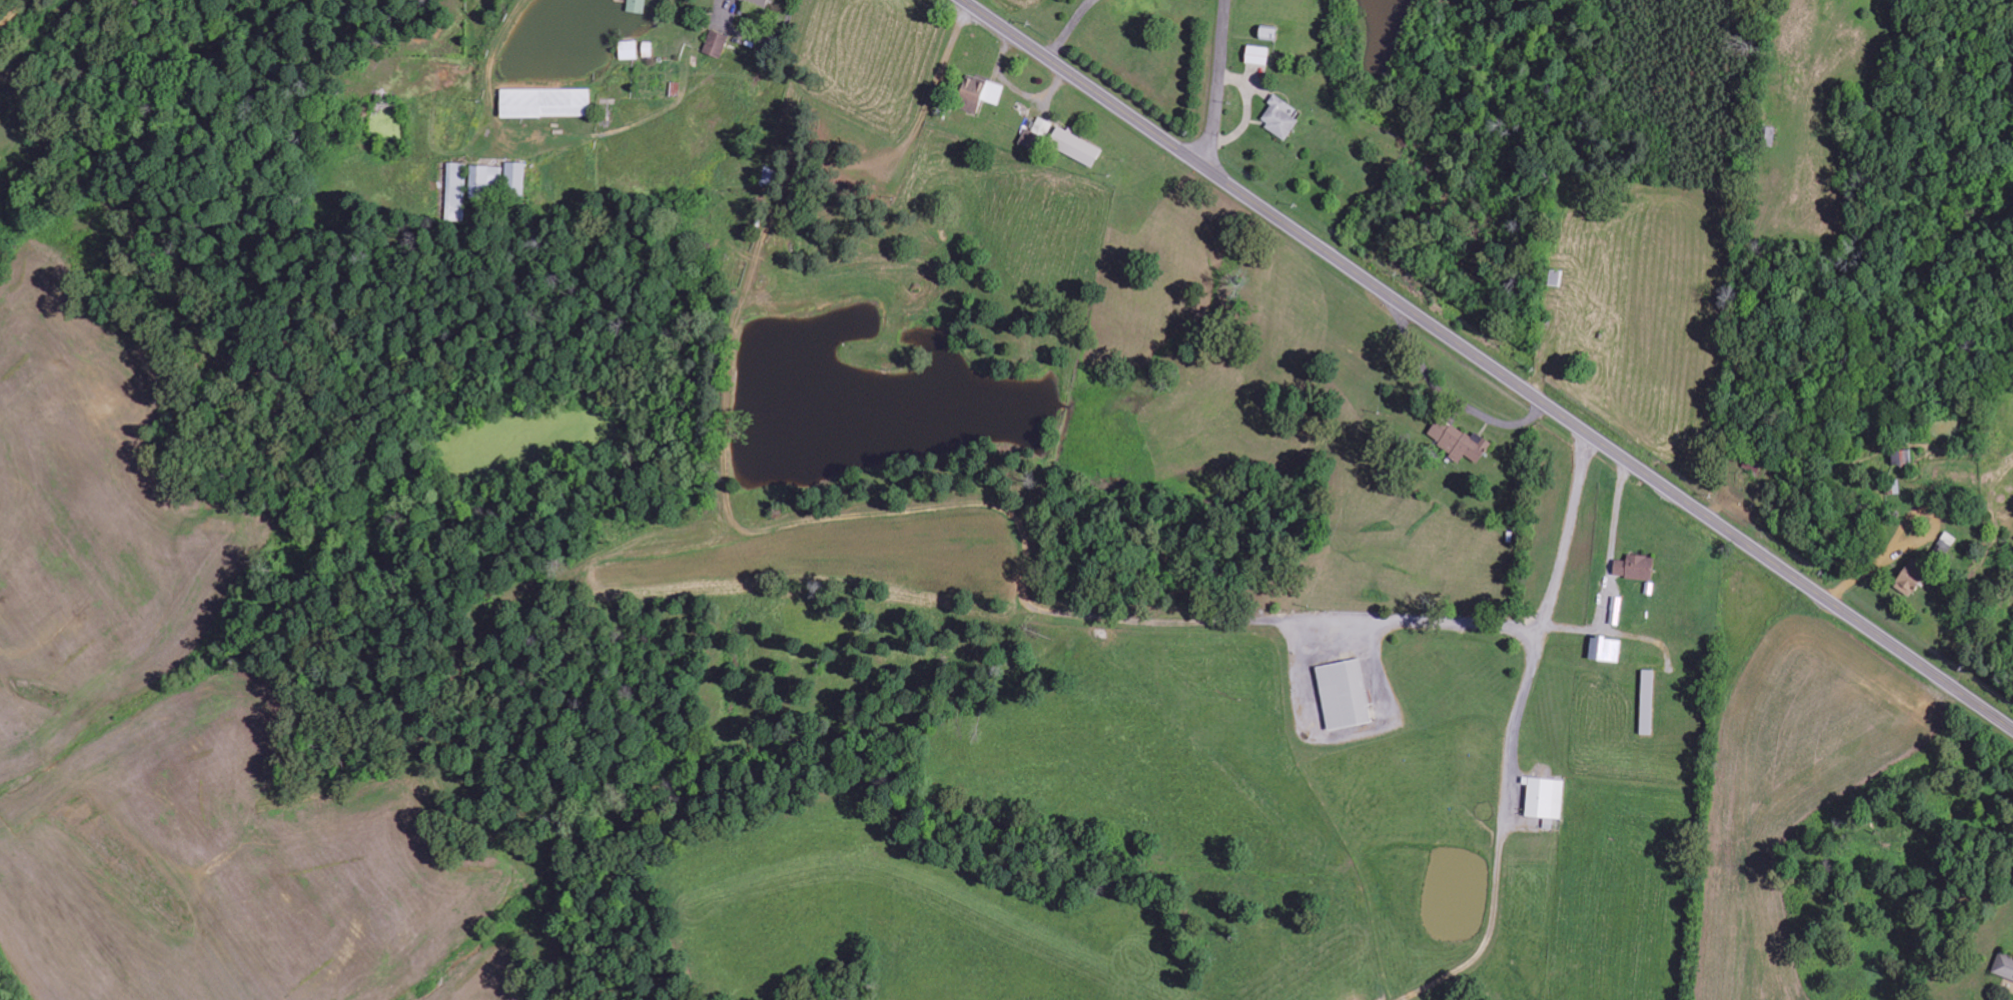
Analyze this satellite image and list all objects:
building: (758, 2)
road: (6, 4)
building: (635, 5)
building: (715, 43)
building: (627, 50)
building: (1257, 54)
road: (1219, 84)
building: (977, 92)
building: (544, 102)
building: (1279, 117)
building: (1041, 126)
building: (1073, 146)
building: (515, 178)
building: (484, 179)
building: (456, 191)
road: (1487, 364)
building: (1457, 440)
building: (1902, 458)
building: (1946, 542)
building: (1634, 567)
building: (1910, 578)
building: (1604, 649)
building: (1343, 694)
building: (1646, 702)
building: (1544, 798)
building: (2004, 966)

